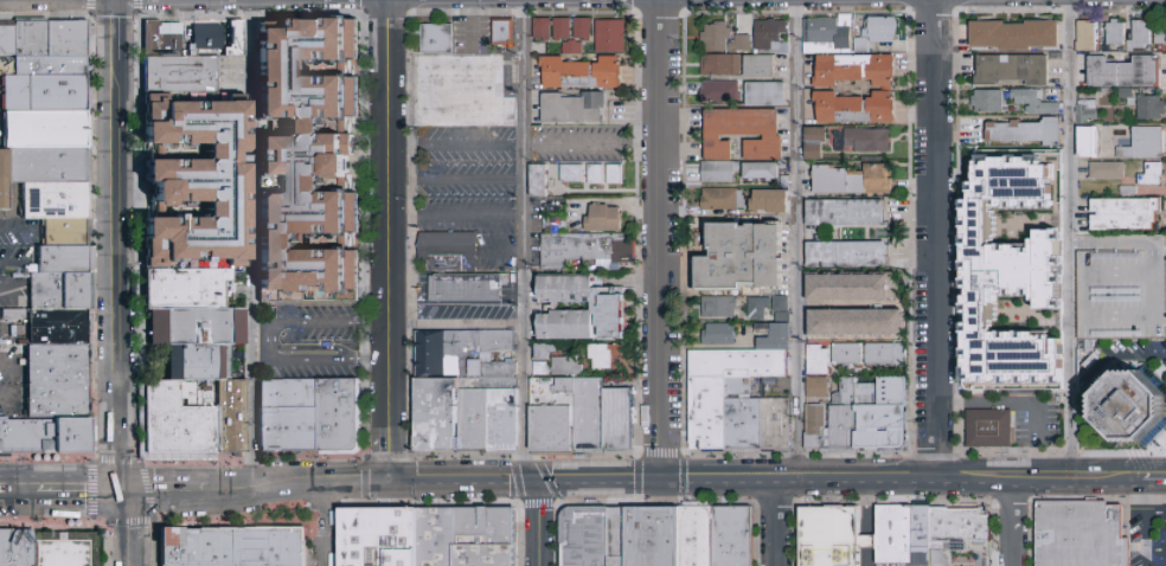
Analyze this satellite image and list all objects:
building: (563, 28)
building: (584, 28)
building: (883, 28)
building: (544, 30)
road: (118, 31)
building: (505, 32)
building: (1113, 32)
building: (1159, 34)
building: (231, 36)
building: (611, 36)
building: (829, 36)
building: (1084, 36)
building: (1139, 36)
building: (718, 37)
building: (65, 38)
building: (437, 38)
building: (773, 38)
building: (1011, 38)
building: (6, 39)
building: (30, 39)
building: (164, 43)
building: (211, 43)
building: (743, 44)
building: (864, 46)
building: (574, 47)
building: (723, 65)
building: (762, 66)
building: (51, 67)
building: (1122, 71)
building: (1010, 72)
building: (584, 73)
building: (182, 79)
building: (889, 89)
building: (463, 91)
building: (722, 92)
building: (768, 94)
building: (45, 98)
building: (1036, 103)
building: (985, 104)
building: (1149, 107)
building: (576, 108)
building: (1084, 109)
building: (745, 134)
building: (45, 135)
building: (1023, 135)
building: (865, 140)
building: (1085, 141)
building: (818, 142)
building: (1140, 142)
road: (451, 144)
road: (589, 144)
building: (313, 160)
building: (1106, 169)
building: (51, 171)
building: (765, 171)
building: (720, 172)
building: (1149, 173)
building: (574, 174)
building: (597, 175)
building: (616, 175)
road: (453, 179)
building: (540, 180)
building: (856, 180)
building: (787, 181)
building: (4, 187)
building: (200, 187)
building: (724, 200)
building: (773, 201)
building: (55, 206)
road: (383, 207)
building: (1122, 212)
building: (847, 213)
road: (453, 216)
building: (606, 219)
road: (797, 233)
road: (933, 233)
road: (1074, 233)
road: (118, 234)
building: (64, 238)
road: (656, 239)
road: (523, 242)
road: (251, 244)
building: (587, 249)
building: (450, 251)
building: (848, 255)
building: (744, 256)
building: (63, 265)
road: (1115, 270)
building: (1005, 277)
road: (1155, 277)
building: (468, 288)
building: (854, 288)
building: (1123, 288)
building: (59, 294)
building: (769, 294)
building: (188, 296)
building: (782, 304)
building: (610, 307)
building: (720, 307)
building: (758, 308)
building: (14, 315)
building: (784, 319)
road: (310, 322)
building: (858, 323)
road: (453, 324)
building: (57, 326)
building: (720, 335)
building: (198, 336)
building: (776, 336)
parking lot: (310, 342)
road: (307, 348)
building: (545, 352)
building: (848, 355)
building: (888, 355)
building: (607, 356)
road: (1114, 358)
building: (819, 361)
road: (319, 362)
building: (568, 367)
building: (543, 369)
building: (193, 372)
building: (55, 379)
building: (770, 382)
building: (819, 388)
building: (466, 393)
building: (738, 403)
building: (1123, 413)
building: (581, 416)
building: (863, 419)
building: (232, 423)
building: (291, 423)
building: (341, 424)
building: (182, 425)
building: (992, 432)
building: (44, 435)
road: (387, 442)
road: (120, 449)
road: (892, 467)
traffic signals: (387, 470)
road: (402, 470)
road: (1127, 480)
road: (602, 481)
traffic signals: (659, 481)
road: (1153, 481)
road: (528, 482)
traffic signals: (533, 482)
road: (4, 485)
road: (938, 488)
road: (1064, 488)
road: (21, 489)
road: (245, 489)
road: (303, 489)
road: (821, 489)
road: (77, 490)
traffic signals: (120, 490)
road: (165, 490)
road: (357, 490)
traffic signals: (387, 490)
road: (723, 490)
road: (4, 491)
road: (456, 491)
road: (1157, 513)
road: (1148, 522)
road: (538, 523)
road: (129, 527)
road: (866, 527)
road: (1013, 527)
road: (328, 528)
road: (777, 528)
building: (961, 529)
building: (893, 532)
building: (827, 533)
building: (1081, 533)
building: (922, 535)
parking lot: (1148, 535)
building: (651, 536)
building: (425, 539)
building: (5, 547)
building: (20, 547)
building: (63, 548)
building: (271, 551)
road: (1157, 551)
building: (201, 552)

